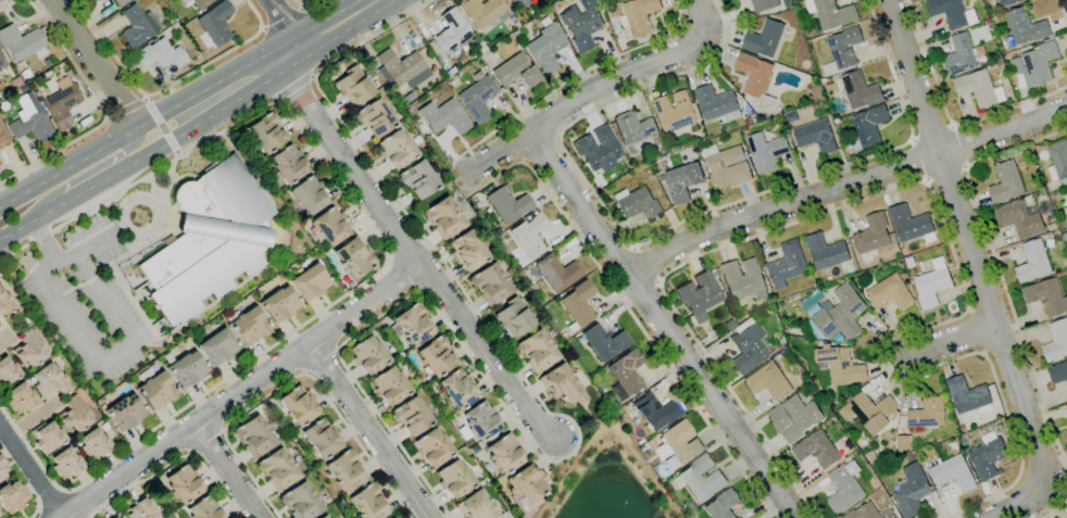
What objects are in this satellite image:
building: (736, 0)
building: (738, 0)
building: (615, 1)
building: (121, 2)
building: (1010, 2)
building: (198, 3)
building: (518, 3)
building: (788, 3)
road: (305, 4)
building: (765, 4)
road: (12, 5)
building: (482, 11)
building: (950, 12)
road: (1063, 12)
building: (830, 14)
road: (283, 16)
building: (638, 20)
building: (172, 21)
road: (703, 21)
building: (581, 22)
building: (611, 22)
building: (216, 23)
road: (286, 23)
building: (138, 26)
building: (1026, 26)
road: (325, 30)
building: (451, 34)
building: (811, 34)
building: (764, 38)
building: (22, 42)
building: (518, 45)
building: (0, 48)
building: (545, 48)
building: (628, 49)
building: (842, 50)
building: (961, 54)
building: (161, 55)
building: (2, 61)
building: (46, 61)
road: (93, 62)
building: (21, 64)
building: (1035, 64)
building: (995, 65)
building: (403, 68)
building: (431, 68)
building: (449, 71)
building: (516, 71)
building: (812, 71)
building: (26, 73)
building: (46, 73)
road: (573, 78)
building: (756, 84)
road: (167, 85)
building: (353, 86)
building: (979, 88)
road: (297, 89)
building: (861, 90)
road: (143, 97)
building: (409, 97)
building: (478, 98)
road: (583, 99)
building: (62, 103)
building: (717, 103)
road: (125, 109)
road: (103, 110)
road: (151, 112)
building: (676, 115)
building: (375, 117)
building: (441, 118)
building: (756, 119)
road: (950, 119)
road: (203, 121)
building: (836, 121)
building: (30, 122)
road: (136, 125)
building: (868, 126)
building: (633, 127)
road: (162, 129)
road: (931, 131)
building: (267, 132)
building: (814, 134)
building: (3, 137)
road: (171, 142)
road: (127, 147)
road: (959, 147)
building: (397, 149)
building: (602, 151)
road: (449, 152)
road: (177, 153)
building: (768, 153)
building: (1058, 160)
road: (917, 161)
building: (0, 164)
building: (288, 165)
building: (728, 165)
building: (649, 174)
road: (945, 175)
building: (417, 179)
building: (682, 181)
road: (924, 182)
building: (1005, 182)
road: (843, 184)
road: (92, 186)
building: (1066, 192)
building: (307, 195)
building: (507, 203)
building: (637, 203)
building: (1065, 212)
building: (467, 215)
building: (443, 218)
building: (1020, 218)
road: (33, 219)
road: (156, 224)
building: (912, 225)
building: (330, 226)
building: (1051, 229)
road: (665, 231)
building: (530, 233)
building: (873, 237)
road: (42, 240)
building: (209, 240)
road: (89, 243)
building: (467, 251)
road: (412, 252)
building: (828, 254)
road: (386, 255)
building: (354, 257)
building: (908, 262)
building: (1032, 263)
road: (648, 265)
building: (787, 265)
road: (996, 266)
building: (556, 273)
road: (978, 274)
road: (403, 277)
building: (743, 279)
building: (310, 282)
building: (932, 282)
building: (490, 283)
building: (890, 293)
parking lot: (85, 294)
building: (700, 294)
building: (558, 296)
building: (1046, 298)
building: (812, 299)
building: (5, 303)
building: (278, 303)
building: (578, 305)
road: (631, 313)
building: (742, 313)
building: (839, 314)
building: (513, 317)
building: (412, 325)
building: (249, 326)
road: (664, 326)
building: (815, 330)
building: (553, 332)
road: (5, 337)
building: (710, 340)
road: (952, 340)
building: (605, 342)
building: (1056, 342)
building: (782, 344)
building: (748, 346)
building: (217, 348)
building: (29, 349)
building: (536, 351)
building: (368, 354)
road: (108, 355)
building: (436, 356)
building: (841, 365)
building: (186, 368)
building: (7, 371)
building: (1057, 372)
building: (626, 375)
road: (293, 378)
building: (50, 381)
building: (416, 381)
building: (768, 381)
building: (390, 386)
building: (562, 386)
building: (155, 389)
building: (456, 389)
road: (244, 392)
building: (968, 396)
building: (21, 399)
building: (299, 405)
building: (654, 412)
building: (870, 412)
building: (125, 413)
building: (75, 414)
building: (927, 414)
building: (412, 416)
road: (30, 417)
building: (794, 419)
building: (480, 421)
road: (570, 421)
building: (903, 426)
road: (371, 431)
building: (47, 437)
building: (254, 437)
building: (322, 439)
building: (903, 442)
building: (95, 444)
building: (651, 444)
building: (678, 444)
building: (432, 447)
building: (641, 448)
building: (475, 450)
building: (816, 450)
building: (503, 452)
building: (896, 455)
building: (988, 456)
building: (66, 464)
road: (173, 465)
building: (2, 468)
building: (277, 469)
building: (346, 471)
road: (32, 472)
road: (228, 472)
building: (953, 473)
building: (454, 479)
building: (700, 479)
building: (184, 484)
road: (33, 487)
building: (527, 487)
building: (844, 487)
building: (335, 492)
building: (323, 494)
building: (13, 496)
building: (911, 496)
road: (51, 500)
building: (301, 502)
road: (37, 503)
building: (368, 503)
road: (78, 504)
building: (723, 505)
building: (476, 506)
road: (1056, 506)
building: (690, 507)
building: (141, 508)
building: (204, 509)
building: (869, 513)
road: (40, 514)
building: (115, 516)
building: (323, 517)
building: (394, 517)
building: (394, 517)

